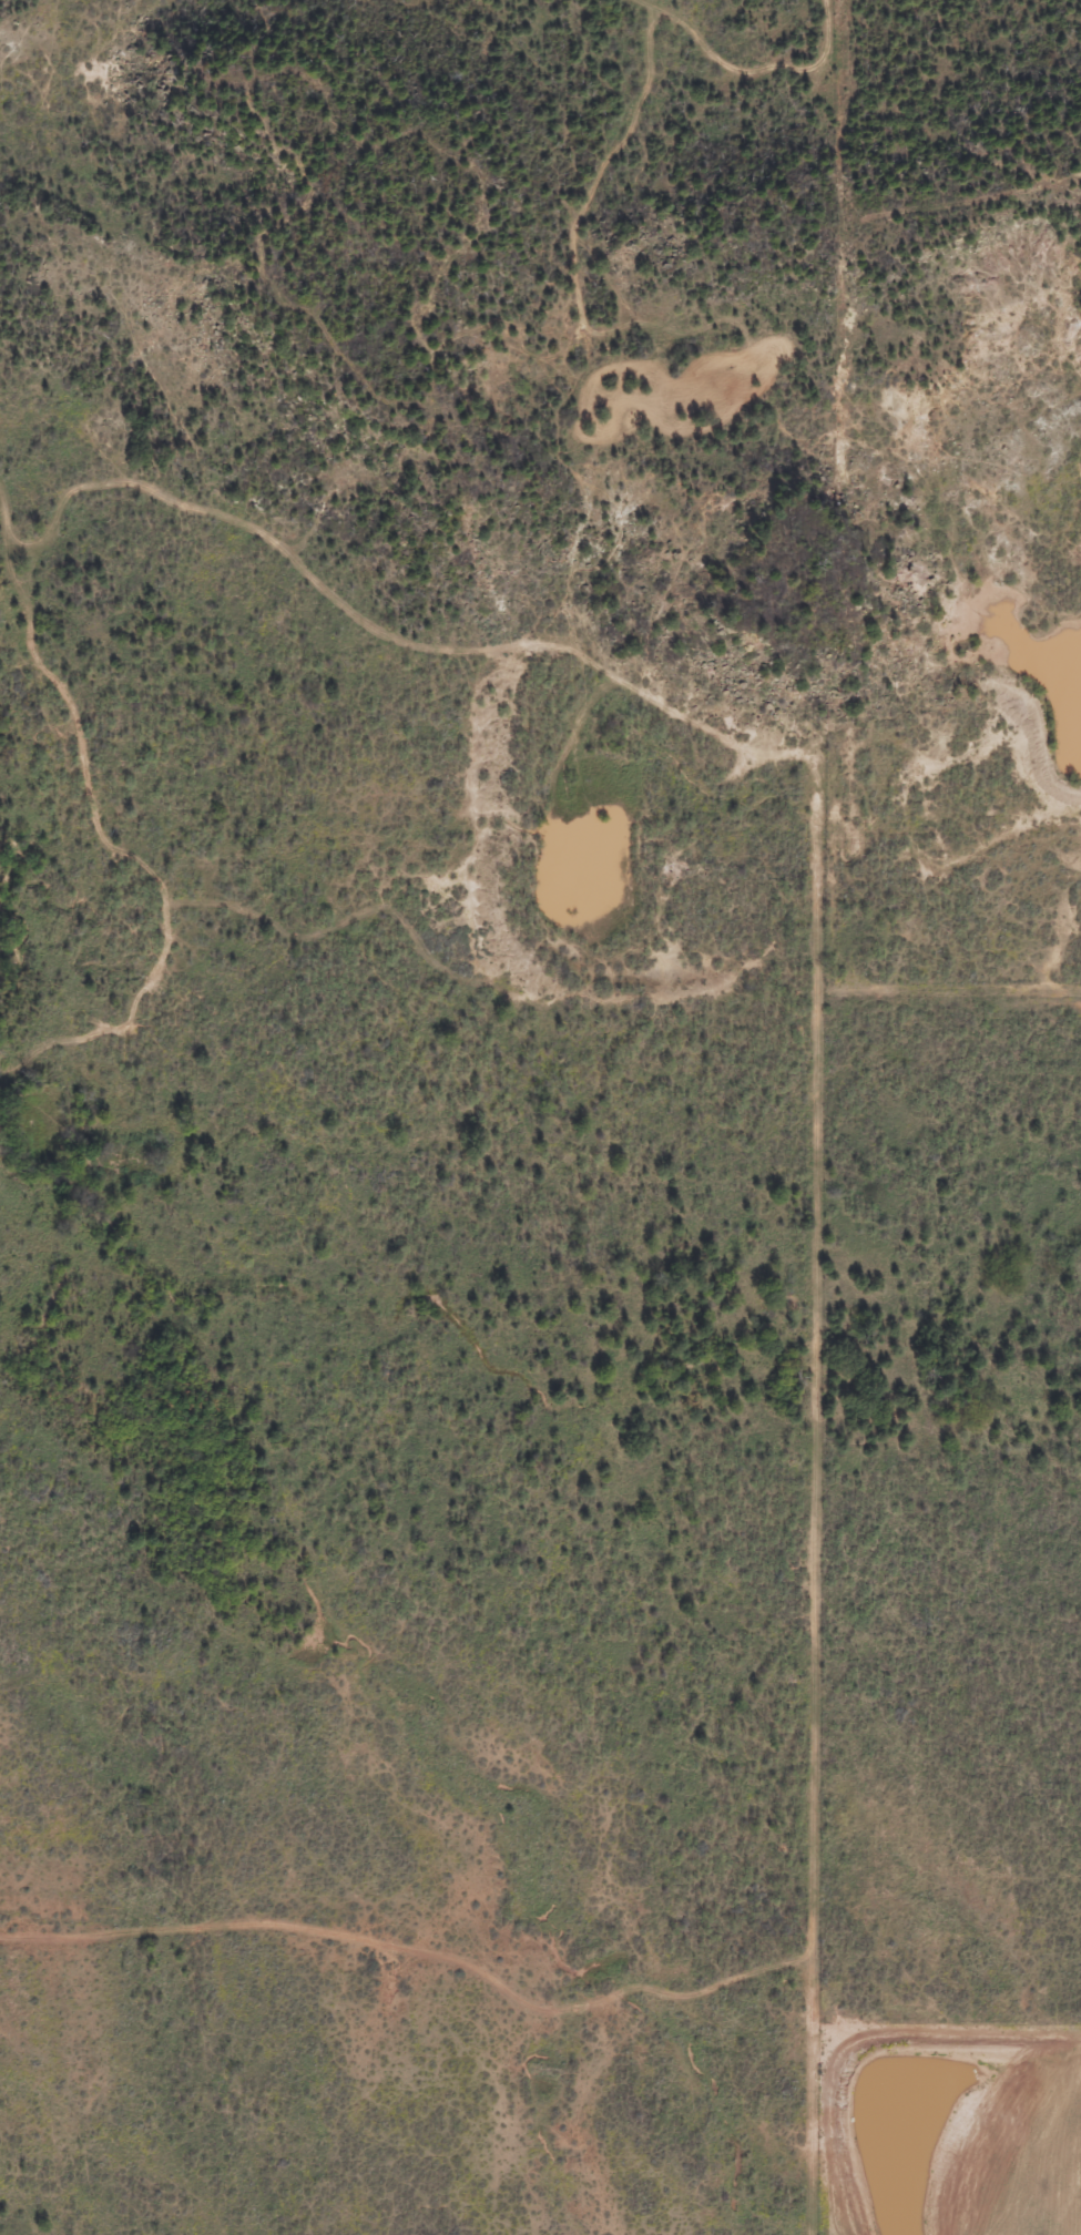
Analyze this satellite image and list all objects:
road: (216, 1970)

